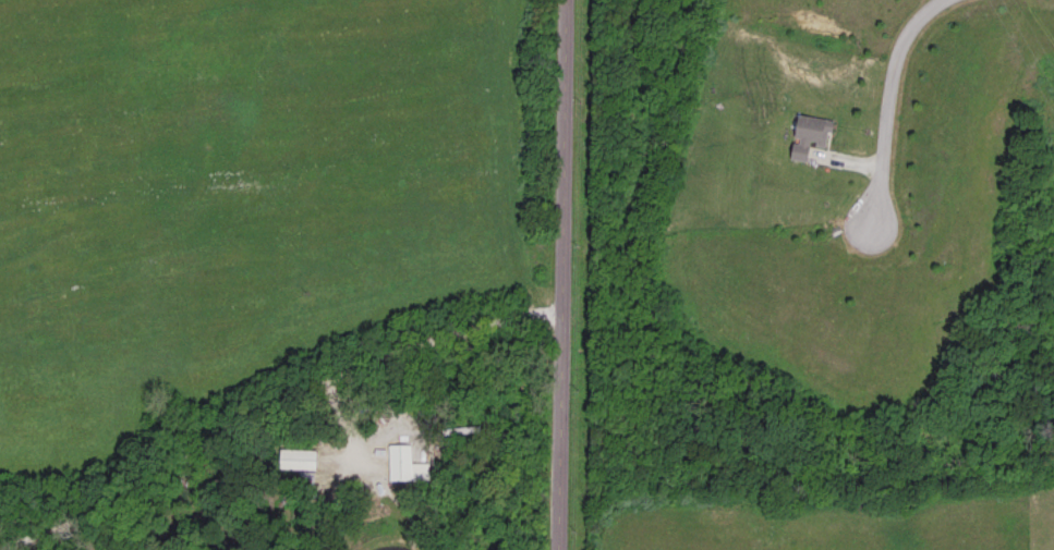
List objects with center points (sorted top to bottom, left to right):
road: (886, 103)
building: (811, 134)
road: (561, 274)
road: (271, 402)
building: (299, 456)
building: (399, 460)

